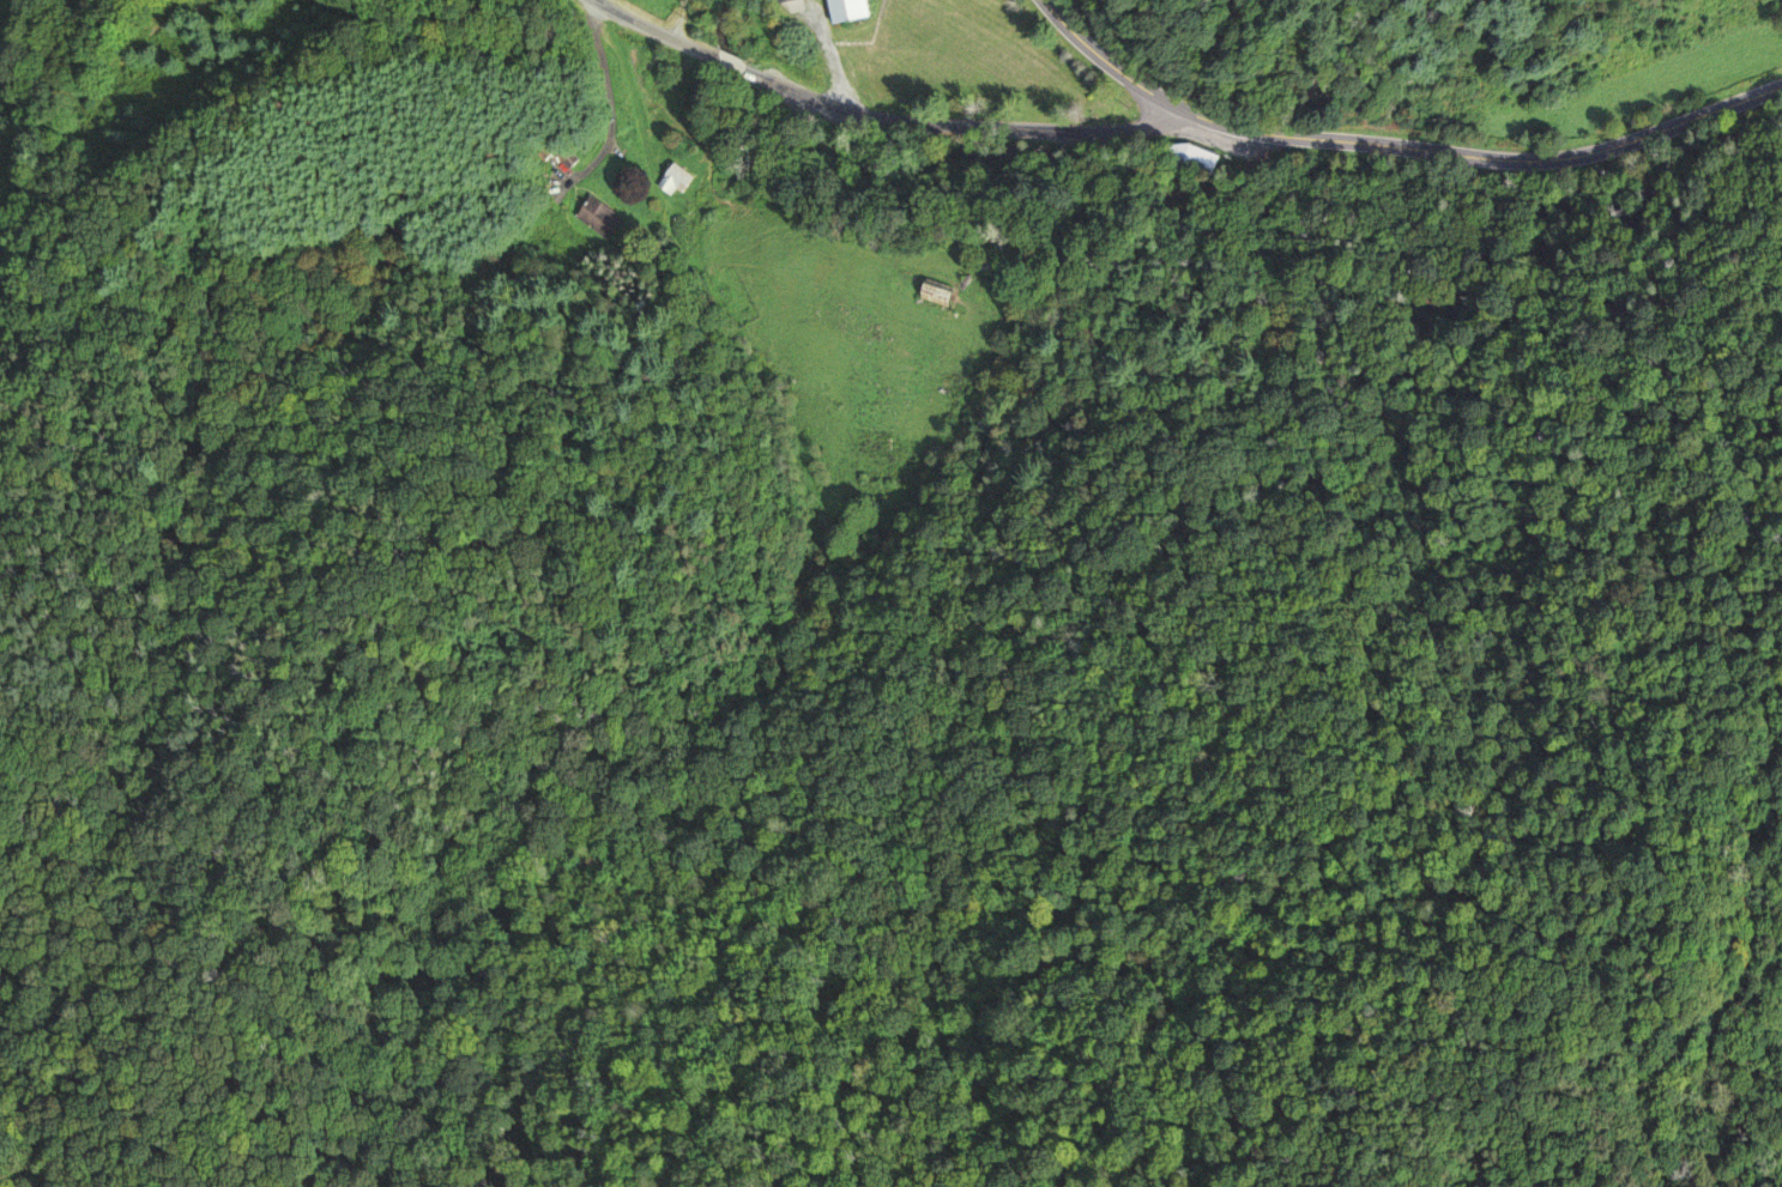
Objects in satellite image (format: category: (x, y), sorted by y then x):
road: (679, 22)
road: (650, 31)
road: (732, 67)
road: (604, 103)
road: (964, 133)
road: (1396, 149)
road: (1736, 842)
road: (1491, 1107)

